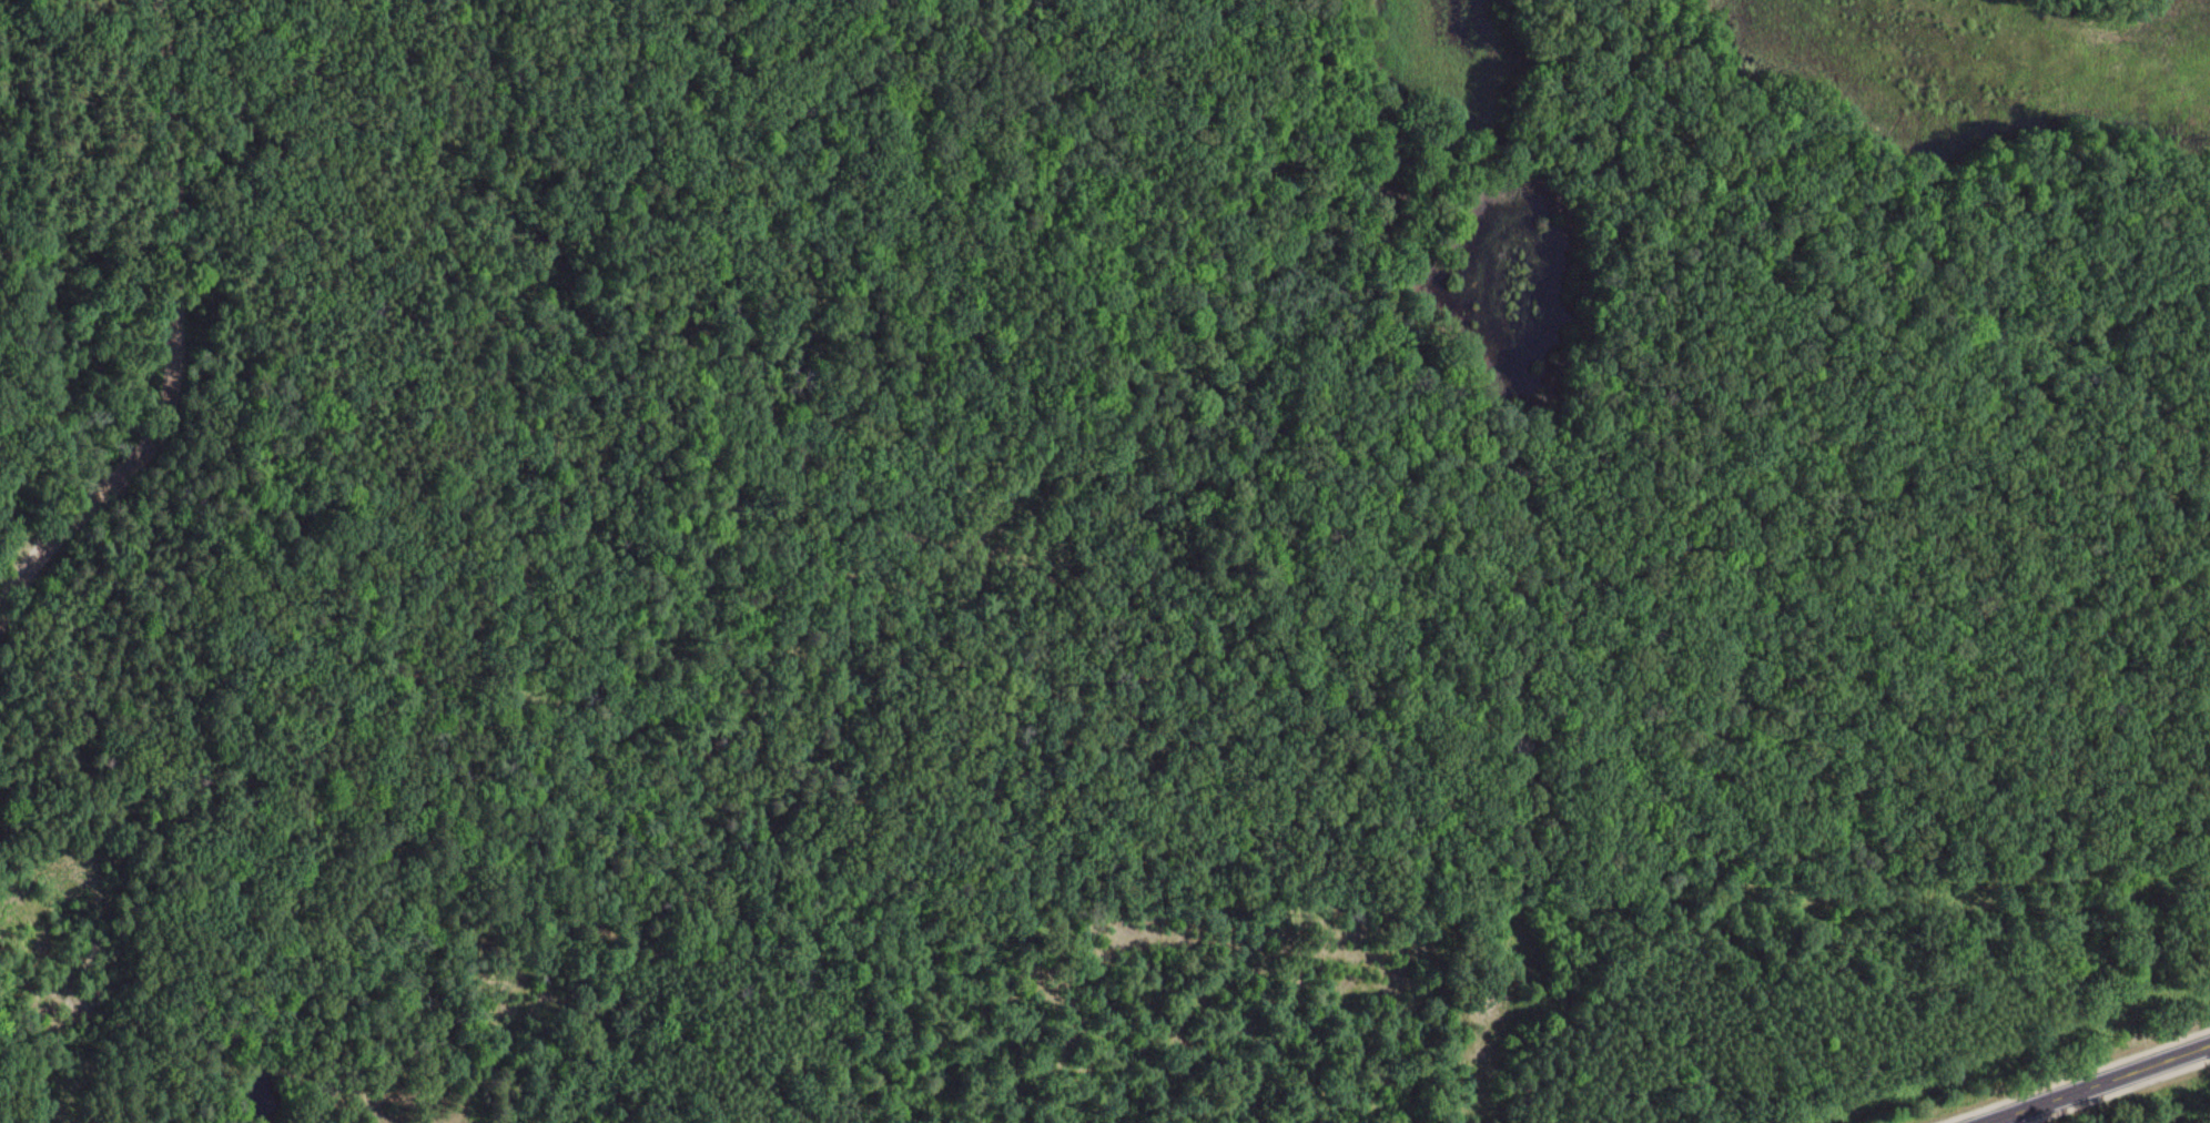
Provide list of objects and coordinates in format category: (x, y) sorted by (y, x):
road: (182, 350)
road: (2098, 1083)

